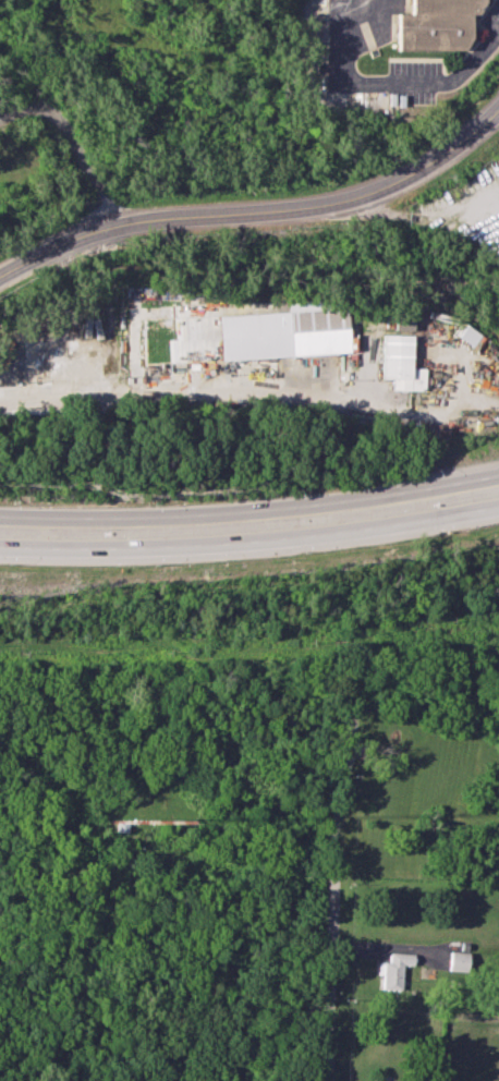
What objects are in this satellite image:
building: (436, 24)
road: (389, 76)
road: (68, 145)
road: (315, 205)
road: (51, 243)
road: (102, 312)
building: (402, 320)
building: (316, 332)
building: (466, 333)
building: (399, 362)
road: (468, 380)
road: (374, 388)
road: (220, 392)
road: (375, 495)
road: (124, 519)
road: (377, 530)
road: (126, 545)
road: (338, 888)
building: (454, 960)
building: (393, 968)

